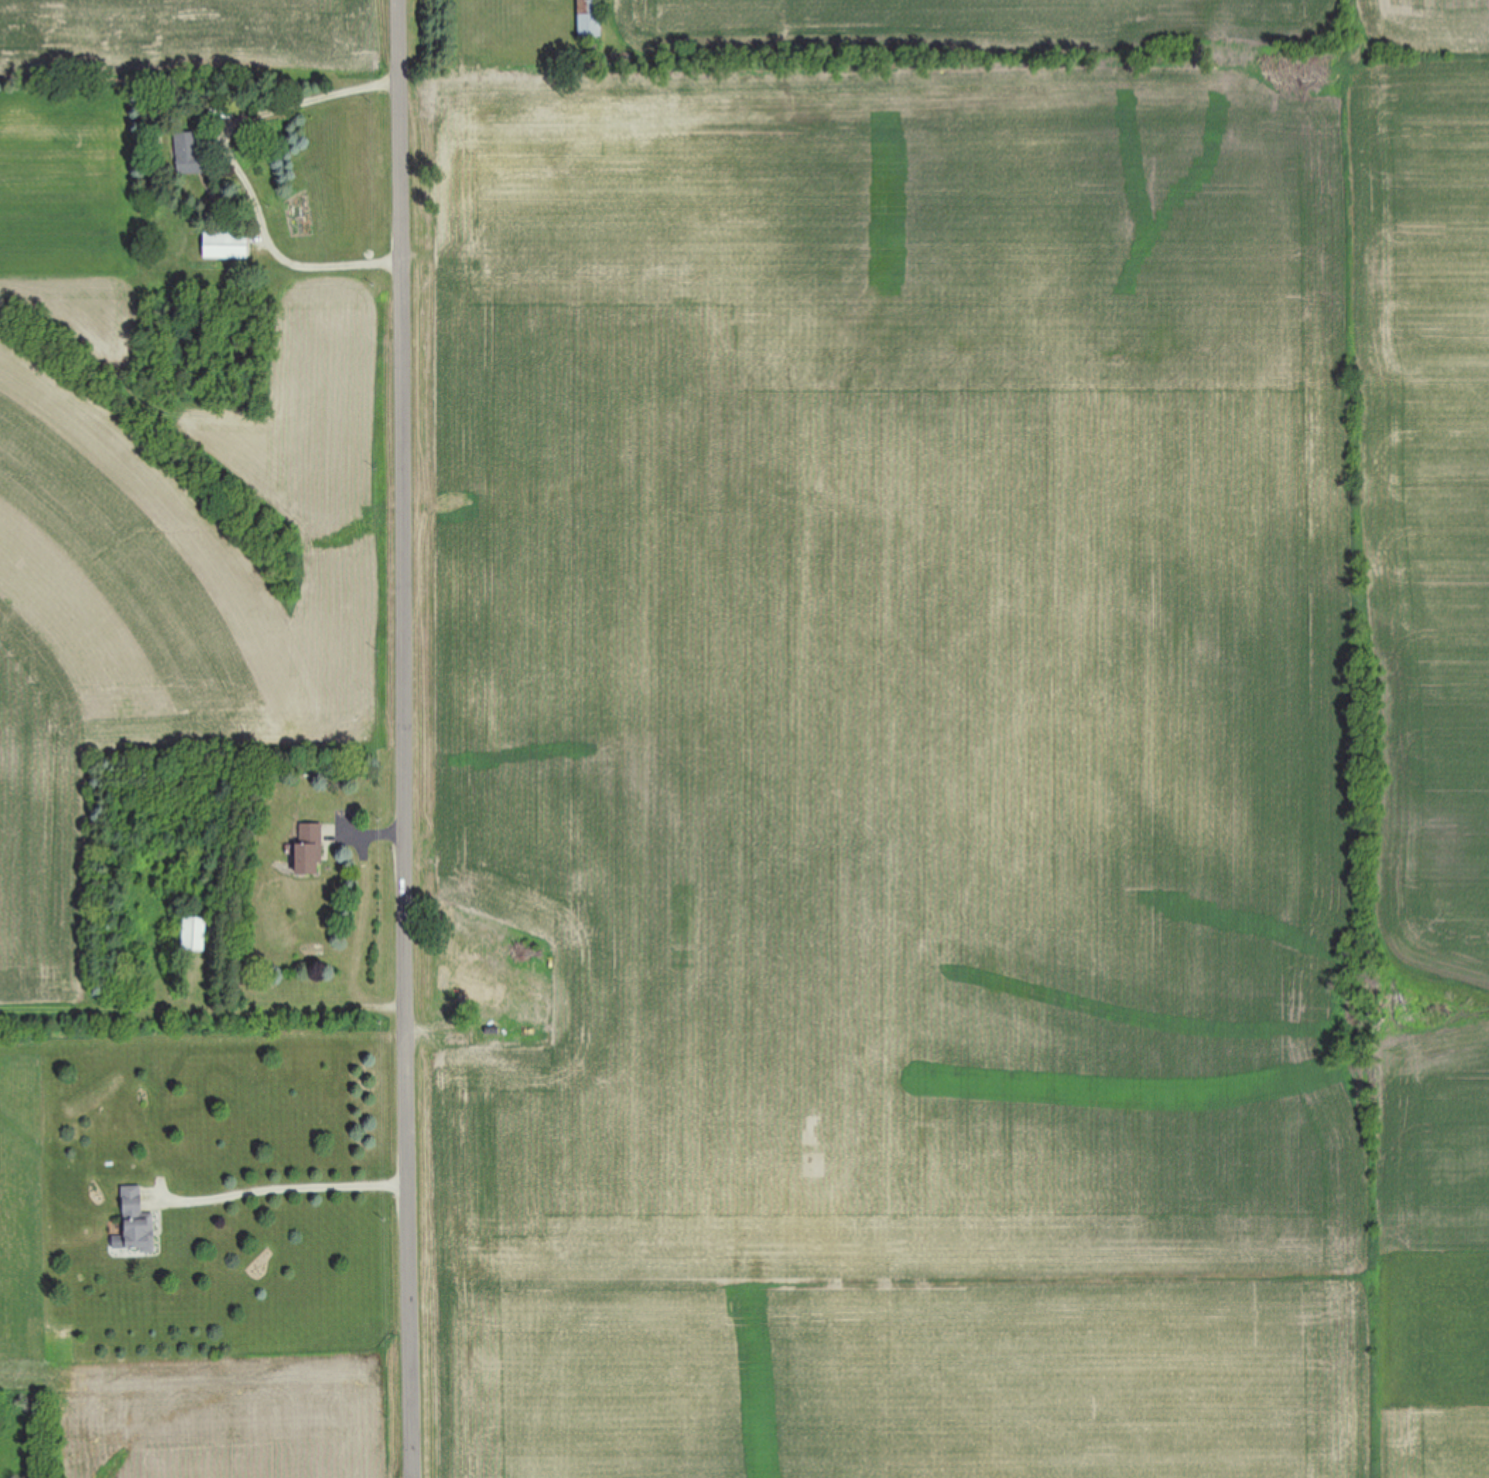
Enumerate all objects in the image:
building: (590, 18)
building: (190, 154)
road: (240, 172)
building: (227, 244)
crop: (167, 470)
road: (409, 738)
crop: (957, 744)
building: (310, 849)
building: (195, 934)
road: (282, 1193)
building: (137, 1222)
crop: (165, 1375)

